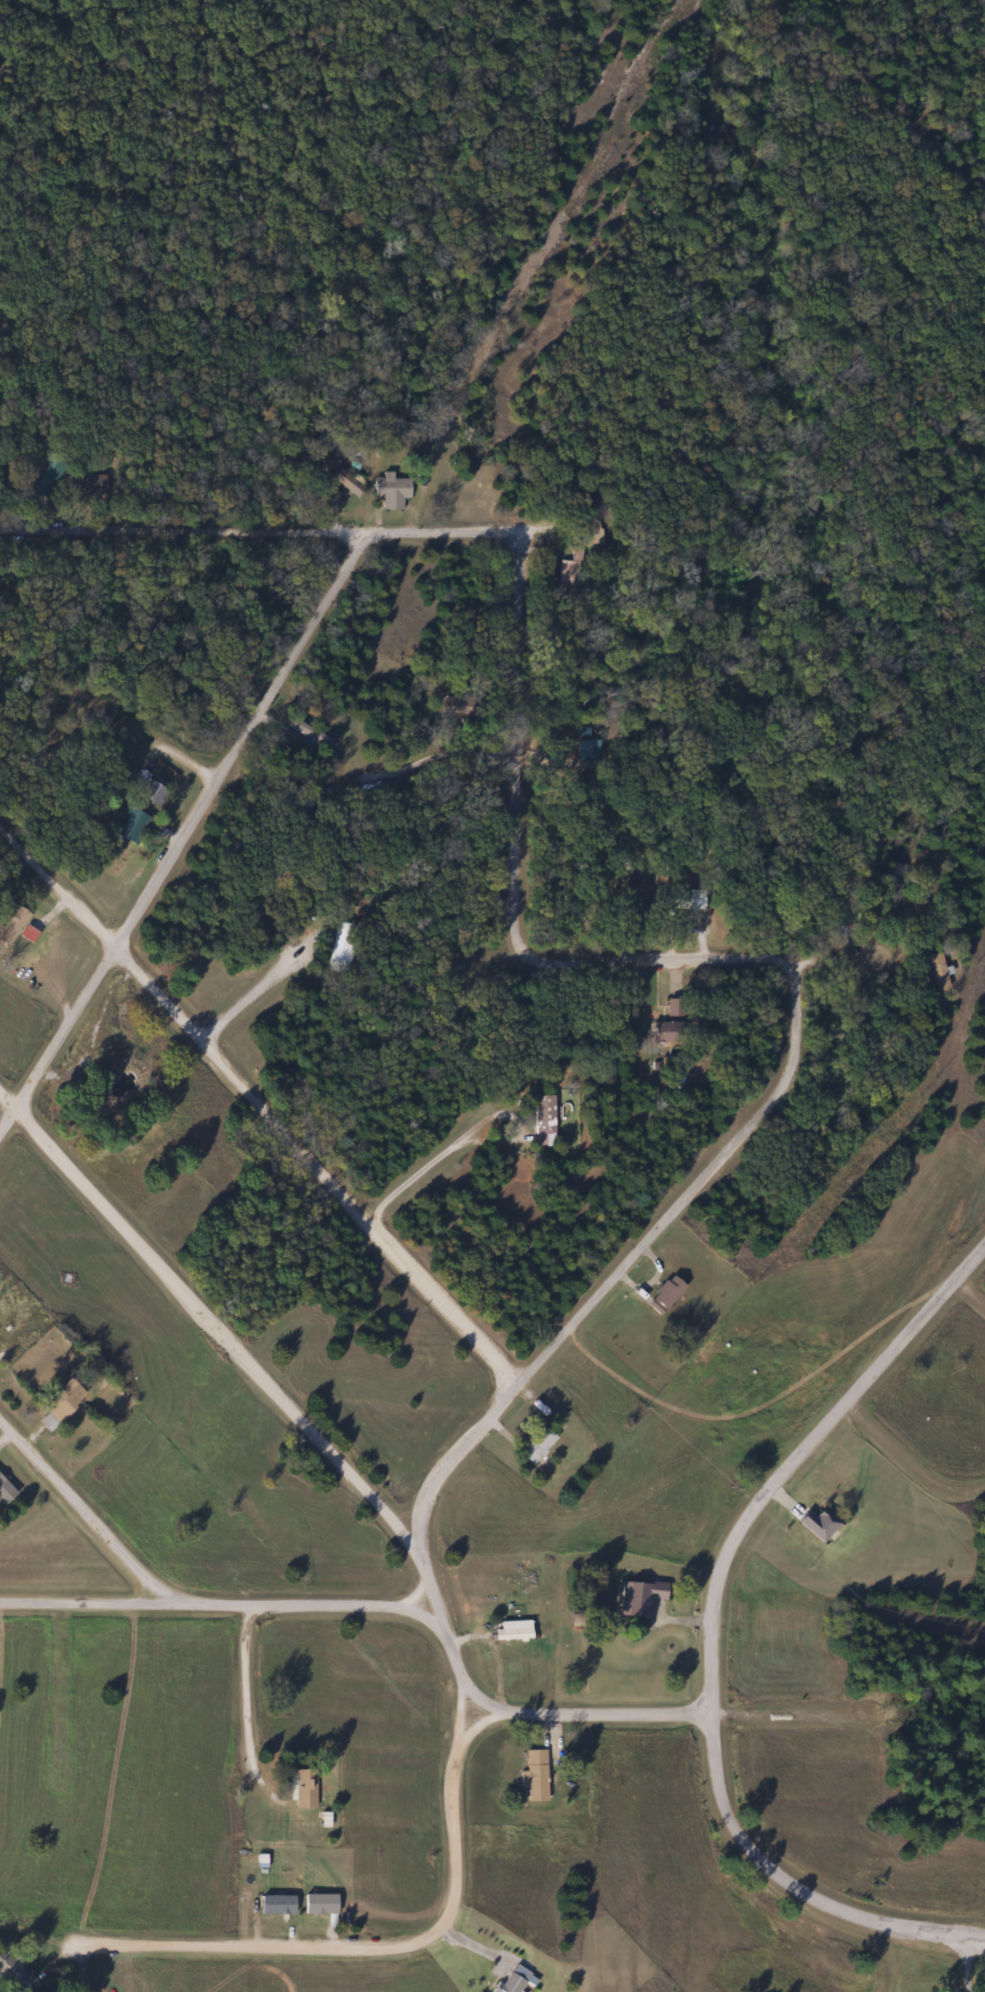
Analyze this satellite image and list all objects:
building: (47, 477)
building: (88, 482)
building: (346, 483)
building: (390, 491)
building: (449, 705)
building: (310, 733)
road: (130, 734)
building: (585, 752)
road: (434, 758)
building: (151, 794)
building: (128, 826)
road: (184, 836)
building: (891, 884)
building: (686, 900)
building: (837, 910)
building: (12, 926)
building: (338, 951)
road: (856, 954)
building: (934, 972)
road: (261, 991)
road: (796, 998)
building: (663, 1031)
road: (262, 1102)
building: (541, 1120)
road: (431, 1165)
building: (663, 1294)
road: (209, 1320)
road: (960, 1327)
building: (60, 1403)
building: (536, 1445)
road: (909, 1450)
building: (5, 1490)
road: (84, 1511)
building: (817, 1524)
building: (638, 1597)
road: (220, 1605)
building: (510, 1633)
road: (717, 1634)
road: (60, 1701)
road: (245, 1712)
road: (484, 1723)
building: (534, 1775)
building: (303, 1789)
building: (319, 1904)
building: (275, 1905)
road: (383, 1947)
road: (969, 1961)
building: (15, 1974)
building: (514, 1980)

